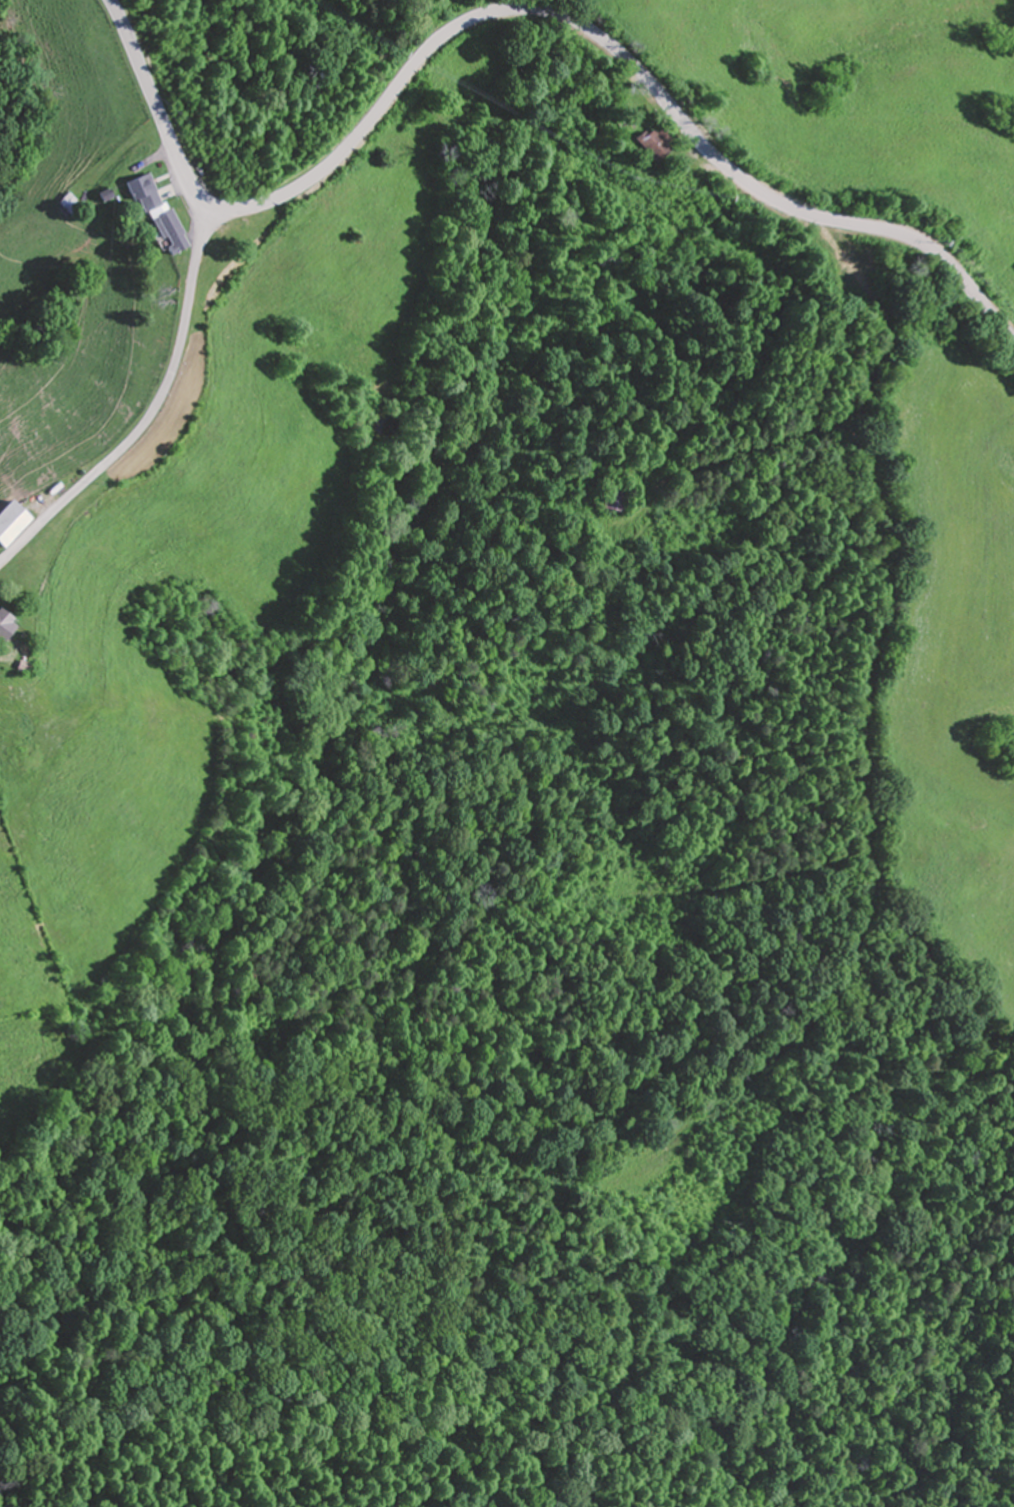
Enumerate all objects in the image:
road: (518, 11)
building: (653, 146)
building: (70, 205)
building: (156, 215)
road: (153, 414)
building: (615, 499)
building: (9, 521)
building: (3, 625)

